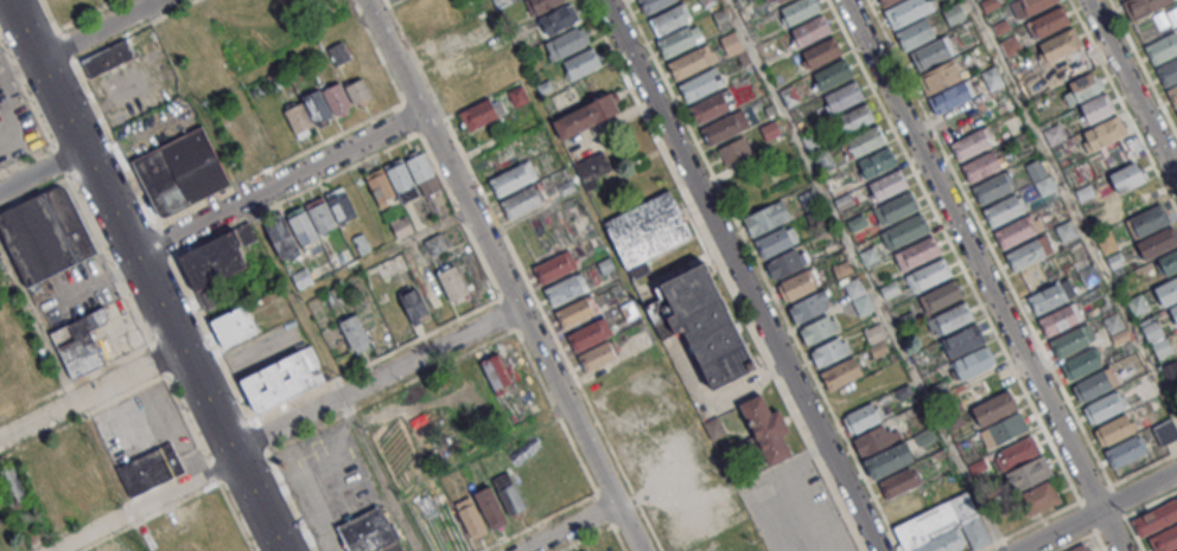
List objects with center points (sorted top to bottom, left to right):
building: (778, 0)
building: (885, 2)
building: (540, 5)
building: (651, 5)
building: (1035, 5)
building: (1144, 6)
road: (178, 7)
building: (422, 7)
building: (799, 9)
building: (905, 11)
road: (89, 14)
road: (52, 15)
road: (157, 18)
building: (668, 19)
building: (556, 20)
building: (1050, 21)
building: (435, 25)
road: (97, 28)
building: (809, 30)
building: (915, 33)
building: (567, 41)
building: (676, 41)
road: (68, 43)
building: (731, 43)
building: (1060, 44)
building: (1162, 46)
building: (821, 52)
building: (931, 52)
road: (77, 56)
building: (450, 56)
road: (288, 57)
building: (107, 60)
building: (581, 63)
building: (686, 64)
road: (1144, 65)
building: (1168, 71)
building: (832, 75)
building: (940, 75)
building: (992, 77)
road: (1134, 83)
building: (699, 85)
building: (1082, 87)
building: (470, 90)
building: (518, 95)
building: (1173, 95)
building: (844, 96)
building: (952, 96)
building: (338, 98)
road: (196, 100)
road: (1124, 105)
building: (708, 107)
building: (1096, 108)
building: (1176, 111)
building: (482, 113)
building: (586, 115)
building: (855, 118)
building: (720, 129)
building: (1106, 130)
building: (1054, 134)
building: (257, 135)
road: (115, 141)
building: (863, 141)
road: (325, 142)
building: (969, 143)
road: (427, 149)
building: (734, 152)
building: (877, 162)
building: (980, 165)
road: (42, 169)
building: (591, 169)
building: (180, 172)
building: (1041, 177)
building: (1126, 177)
building: (401, 178)
building: (514, 178)
road: (281, 181)
road: (238, 184)
building: (887, 185)
building: (994, 186)
building: (808, 199)
building: (522, 200)
road: (1074, 206)
building: (895, 207)
building: (1004, 209)
building: (766, 217)
building: (311, 219)
building: (1147, 219)
building: (855, 222)
building: (402, 226)
building: (648, 229)
building: (905, 230)
building: (1017, 230)
building: (45, 235)
building: (1106, 241)
building: (775, 242)
building: (1158, 242)
road: (991, 244)
building: (437, 245)
road: (386, 252)
building: (917, 252)
road: (955, 252)
building: (1026, 252)
building: (869, 255)
building: (1168, 263)
building: (222, 264)
building: (784, 264)
building: (555, 267)
building: (927, 274)
building: (1088, 274)
road: (510, 275)
road: (524, 275)
road: (625, 275)
road: (726, 275)
road: (739, 275)
road: (764, 275)
road: (865, 275)
road: (988, 275)
road: (145, 276)
building: (797, 284)
building: (566, 288)
building: (854, 289)
building: (1166, 291)
building: (940, 295)
road: (294, 296)
building: (1048, 296)
building: (1138, 305)
building: (413, 306)
building: (807, 306)
building: (628, 309)
road: (508, 312)
building: (575, 312)
building: (1173, 314)
building: (949, 318)
building: (1061, 319)
building: (706, 323)
building: (234, 325)
building: (1115, 328)
building: (816, 329)
building: (874, 333)
building: (356, 334)
building: (588, 334)
building: (962, 340)
building: (1071, 340)
building: (79, 342)
building: (1162, 348)
building: (829, 351)
building: (599, 354)
building: (516, 360)
building: (1082, 363)
building: (959, 369)
building: (1170, 369)
building: (497, 373)
building: (840, 373)
road: (66, 376)
building: (282, 379)
building: (1094, 384)
road: (90, 393)
building: (1105, 406)
building: (994, 408)
road: (556, 411)
road: (342, 414)
building: (863, 417)
road: (288, 423)
building: (387, 425)
building: (765, 427)
building: (1005, 429)
building: (1115, 429)
building: (1165, 431)
building: (924, 437)
building: (871, 440)
building: (1017, 451)
building: (1124, 451)
building: (886, 460)
road: (794, 461)
road: (1141, 468)
building: (151, 469)
building: (1028, 473)
road: (380, 474)
building: (549, 479)
building: (898, 482)
building: (12, 485)
building: (529, 486)
road: (1096, 493)
building: (1038, 496)
road: (1119, 499)
road: (1150, 505)
parking lot: (793, 507)
road: (604, 508)
road: (793, 508)
road: (1098, 512)
building: (470, 517)
road: (1087, 517)
building: (1156, 517)
road: (539, 523)
road: (570, 524)
road: (1032, 524)
road: (1112, 524)
road: (1098, 531)
road: (1134, 531)
building: (975, 532)
building: (369, 533)
road: (617, 536)
road: (585, 538)
road: (1099, 539)
building: (1165, 539)
building: (944, 542)
building: (606, 545)
building: (1081, 547)
building: (106, 550)
building: (586, 550)

